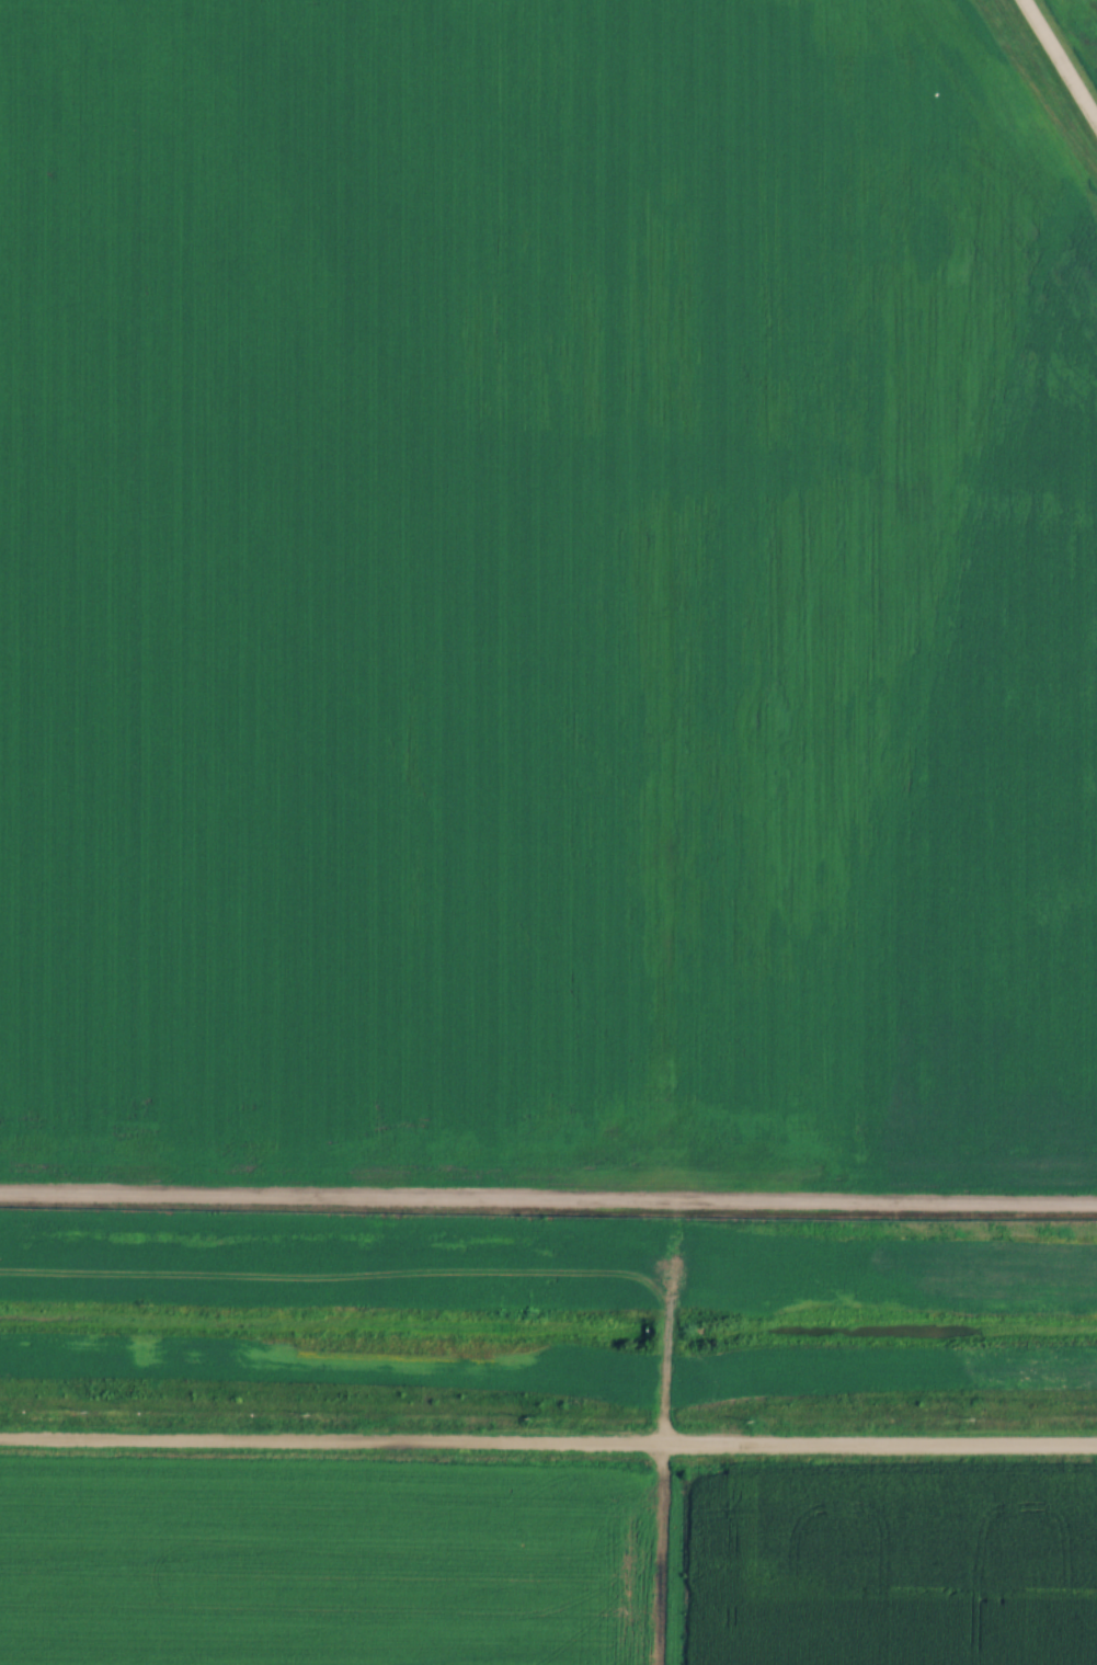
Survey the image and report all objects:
road: (1061, 59)
road: (548, 1202)
road: (548, 1444)

